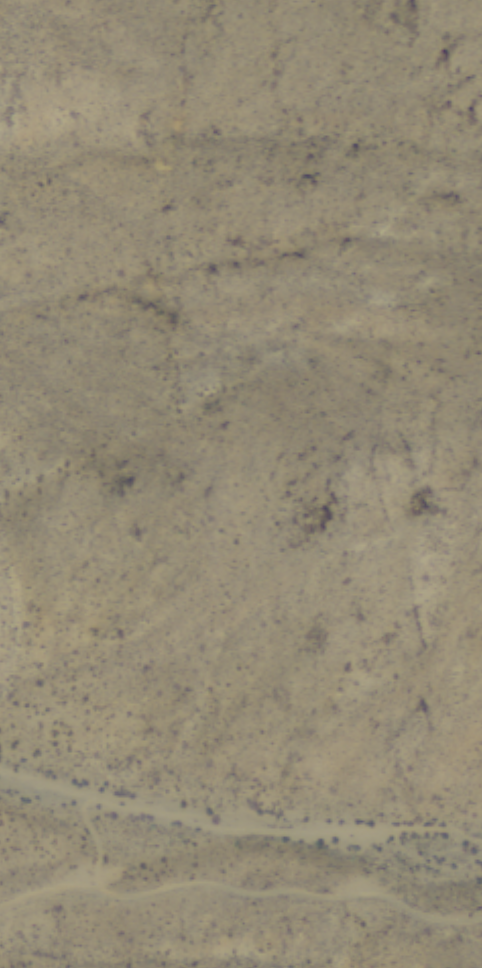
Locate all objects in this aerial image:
road: (244, 884)

